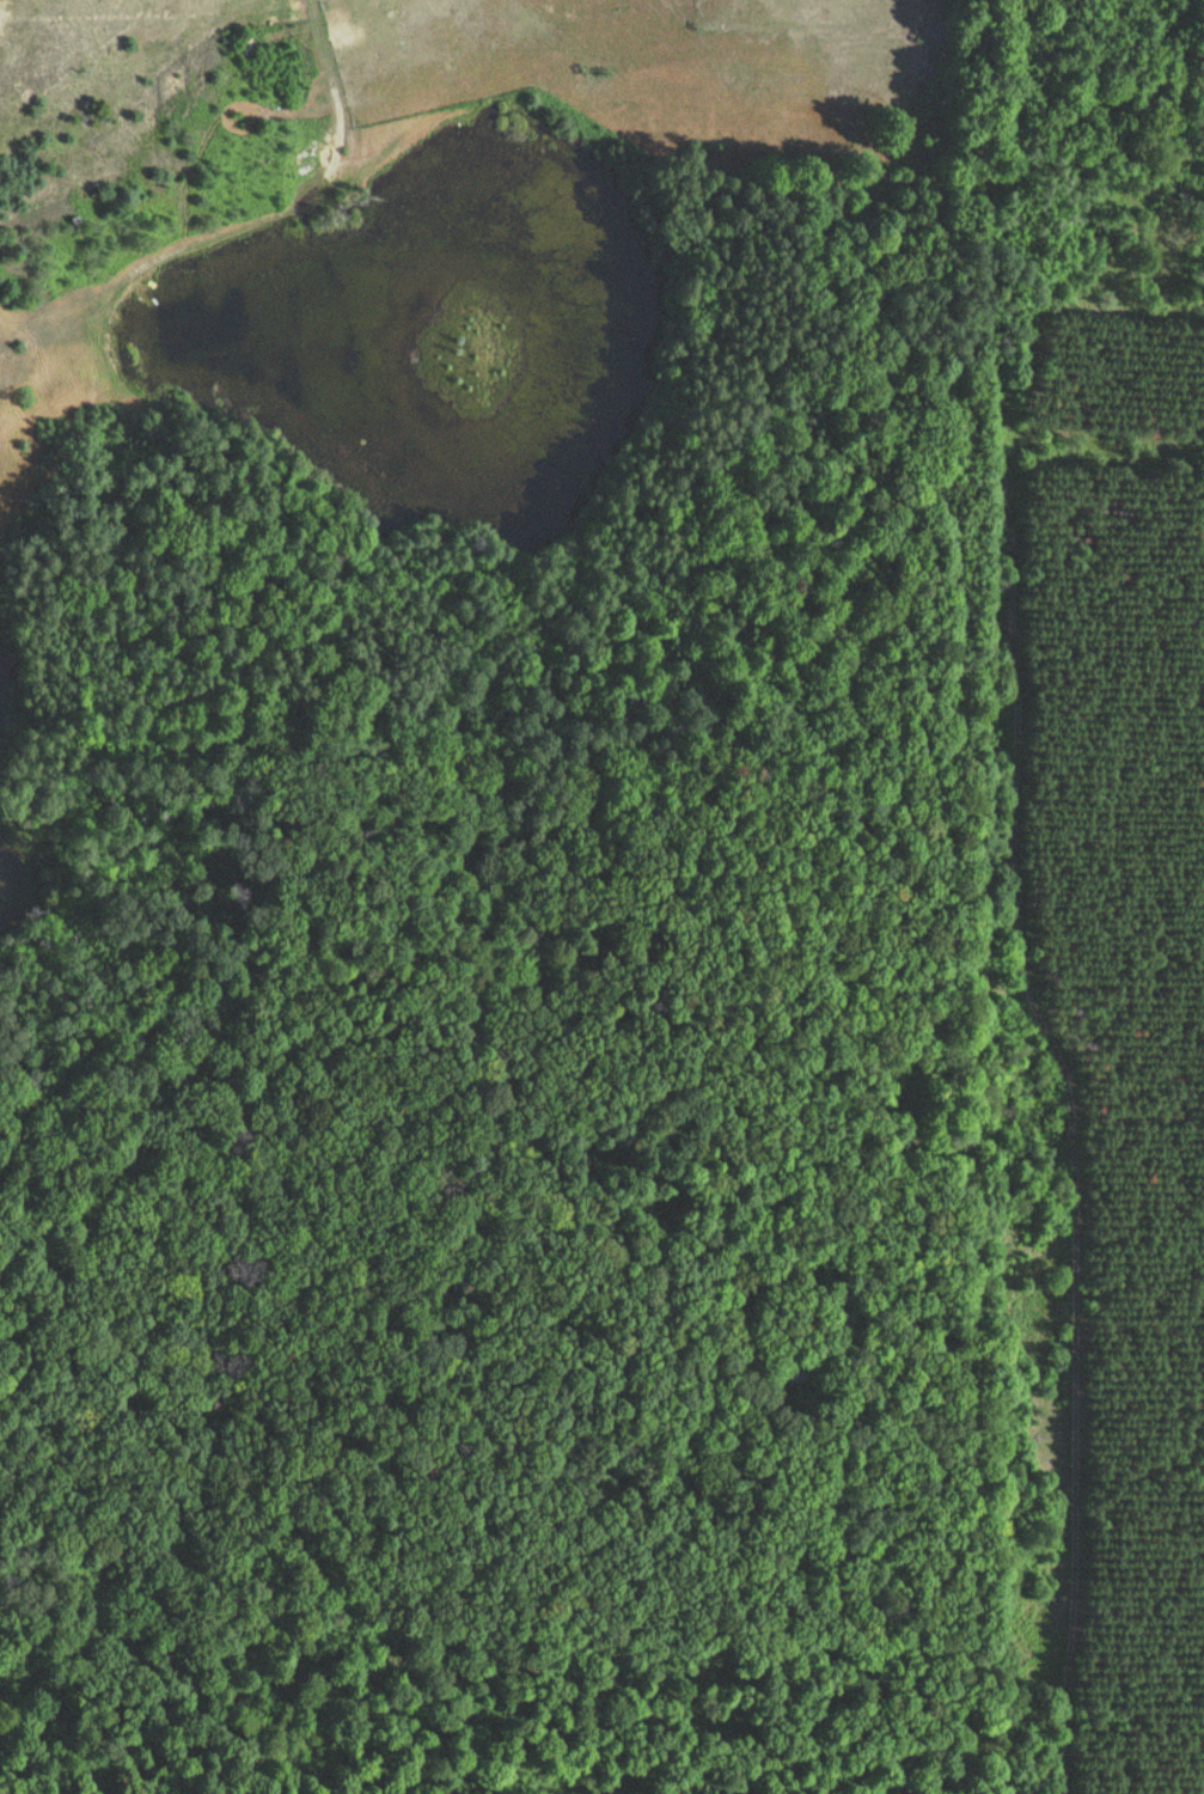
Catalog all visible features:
road: (977, 909)
building: (788, 1373)

